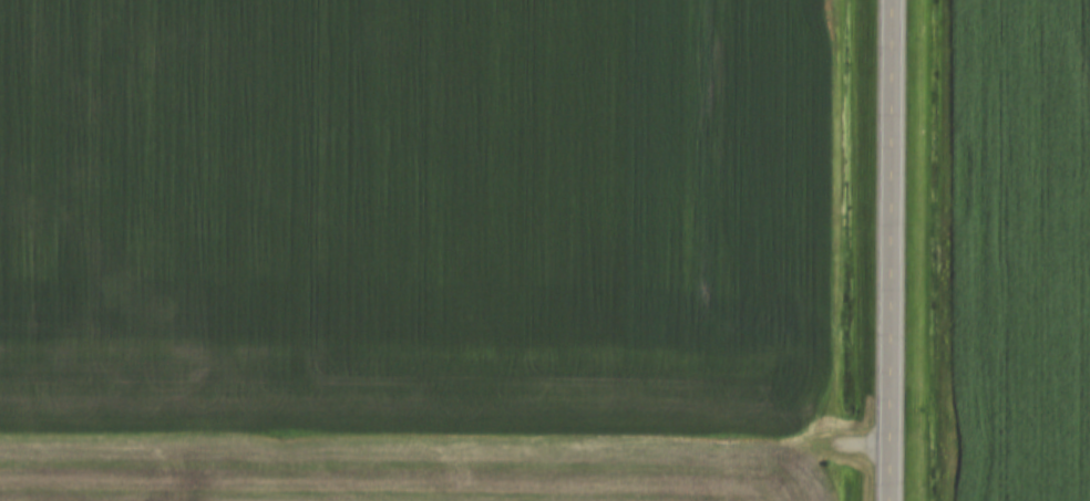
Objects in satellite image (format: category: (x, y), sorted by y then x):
road: (891, 250)

